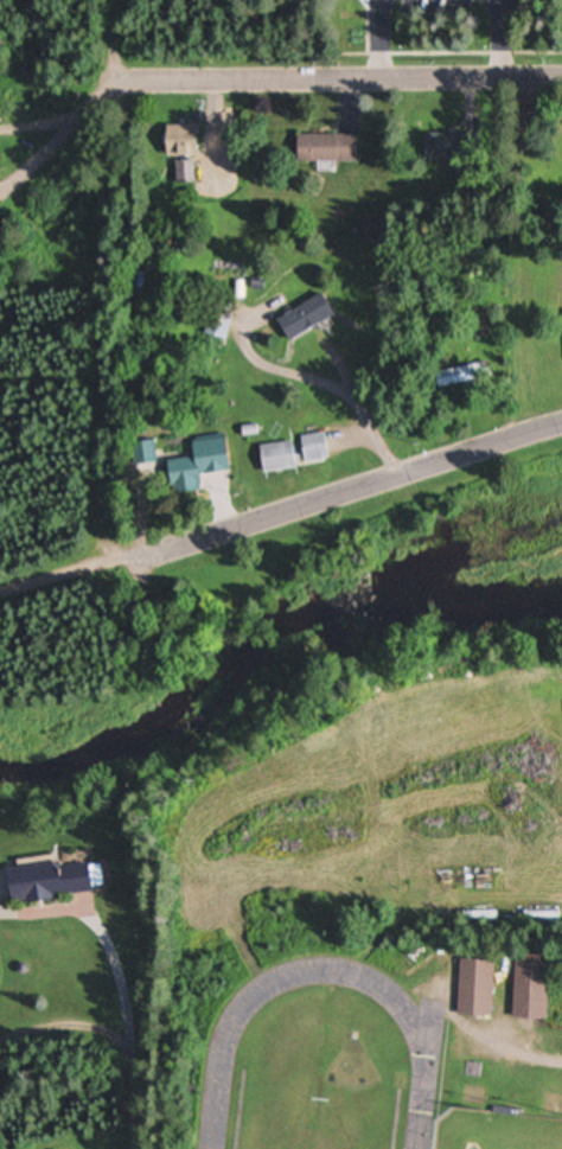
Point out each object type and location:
road: (343, 76)
building: (178, 142)
building: (322, 149)
building: (202, 172)
building: (299, 319)
building: (217, 325)
building: (311, 449)
building: (272, 459)
building: (197, 468)
road: (280, 515)
river: (269, 634)
building: (49, 881)
road: (91, 923)
building: (473, 989)
building: (526, 991)
road: (507, 1047)
track: (429, 1055)
road: (128, 1079)
park: (503, 1138)

